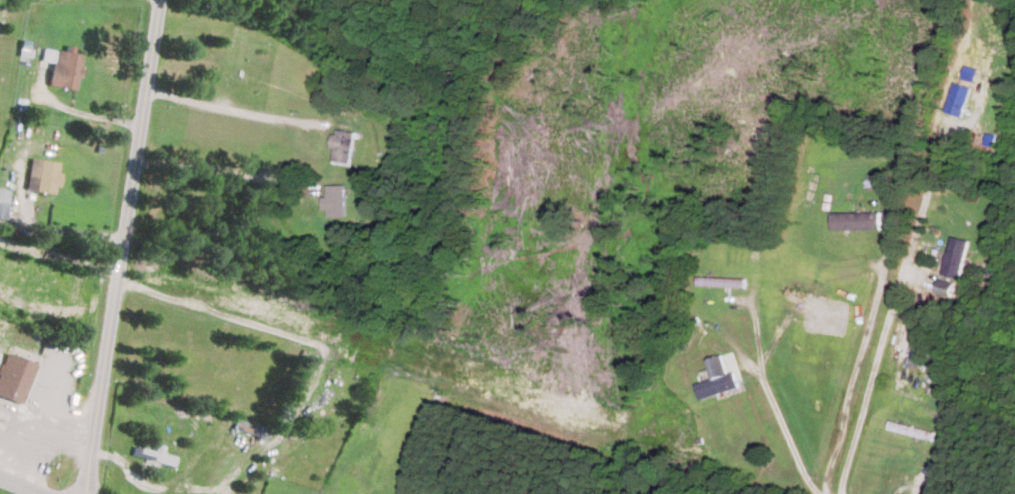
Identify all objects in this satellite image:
building: (63, 67)
building: (960, 99)
road: (233, 110)
road: (85, 112)
building: (344, 145)
road: (226, 168)
road: (933, 175)
building: (43, 176)
building: (336, 201)
building: (3, 202)
building: (858, 219)
road: (66, 231)
road: (121, 246)
building: (958, 255)
road: (59, 256)
building: (948, 286)
building: (916, 354)
road: (849, 355)
road: (884, 364)
building: (13, 378)
building: (719, 378)
road: (472, 379)
road: (38, 442)
building: (148, 451)
road: (13, 488)
road: (184, 489)

